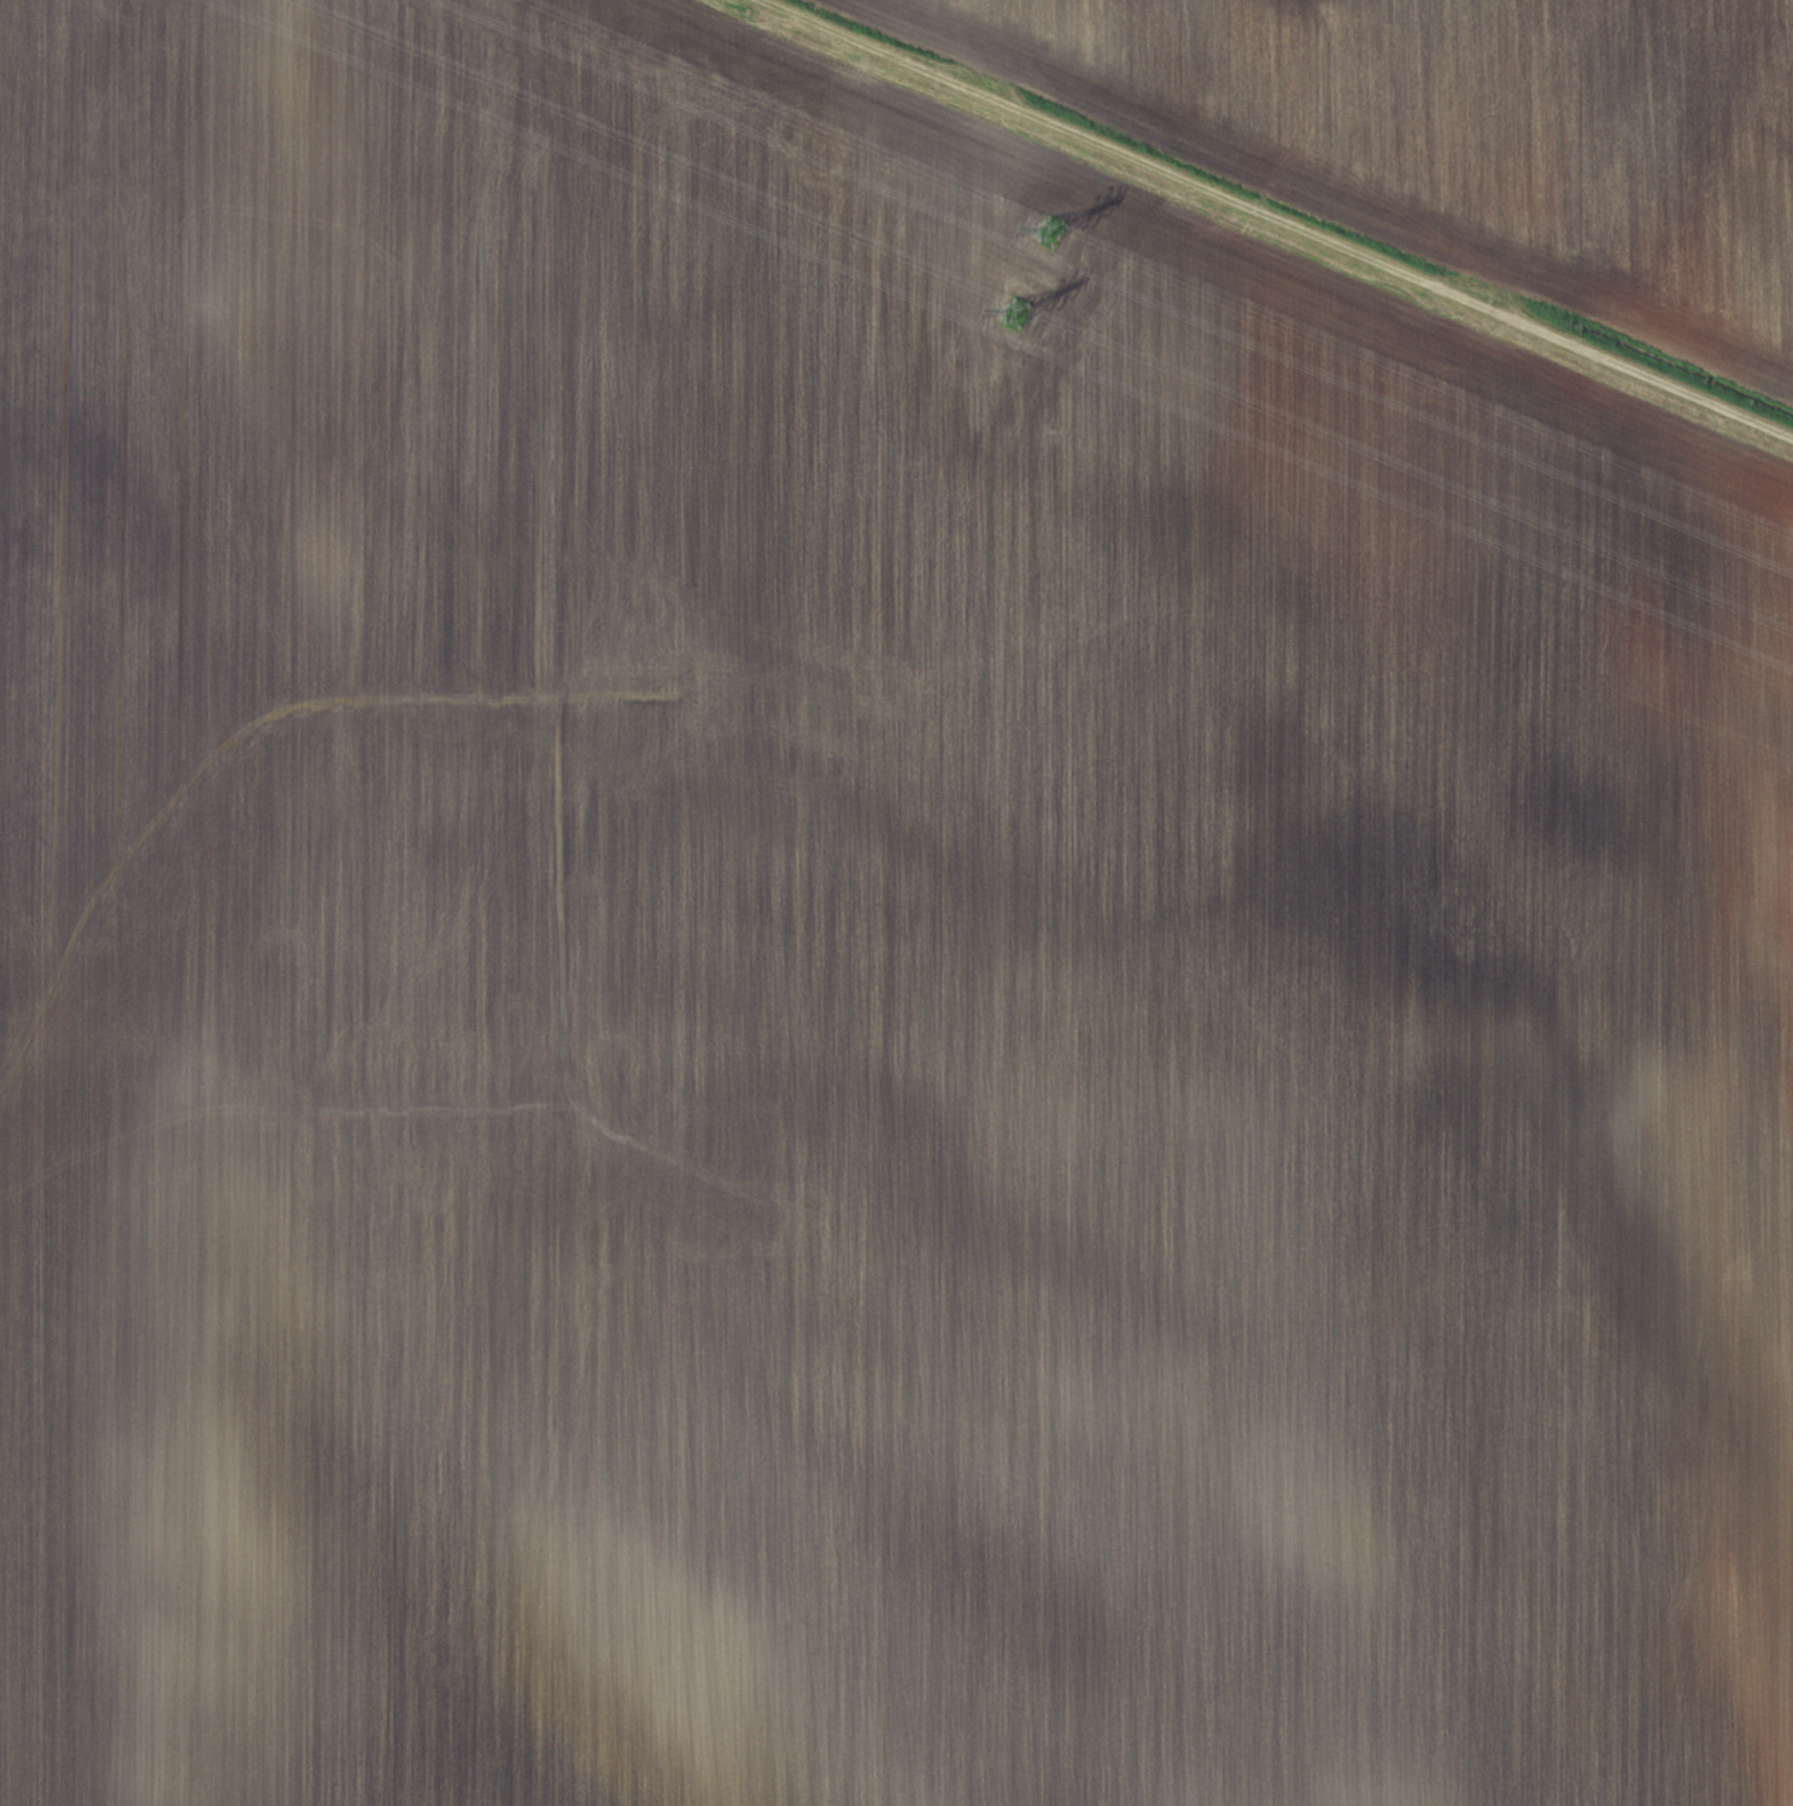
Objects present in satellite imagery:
power tower: (1048, 221)
power tower: (1018, 312)

